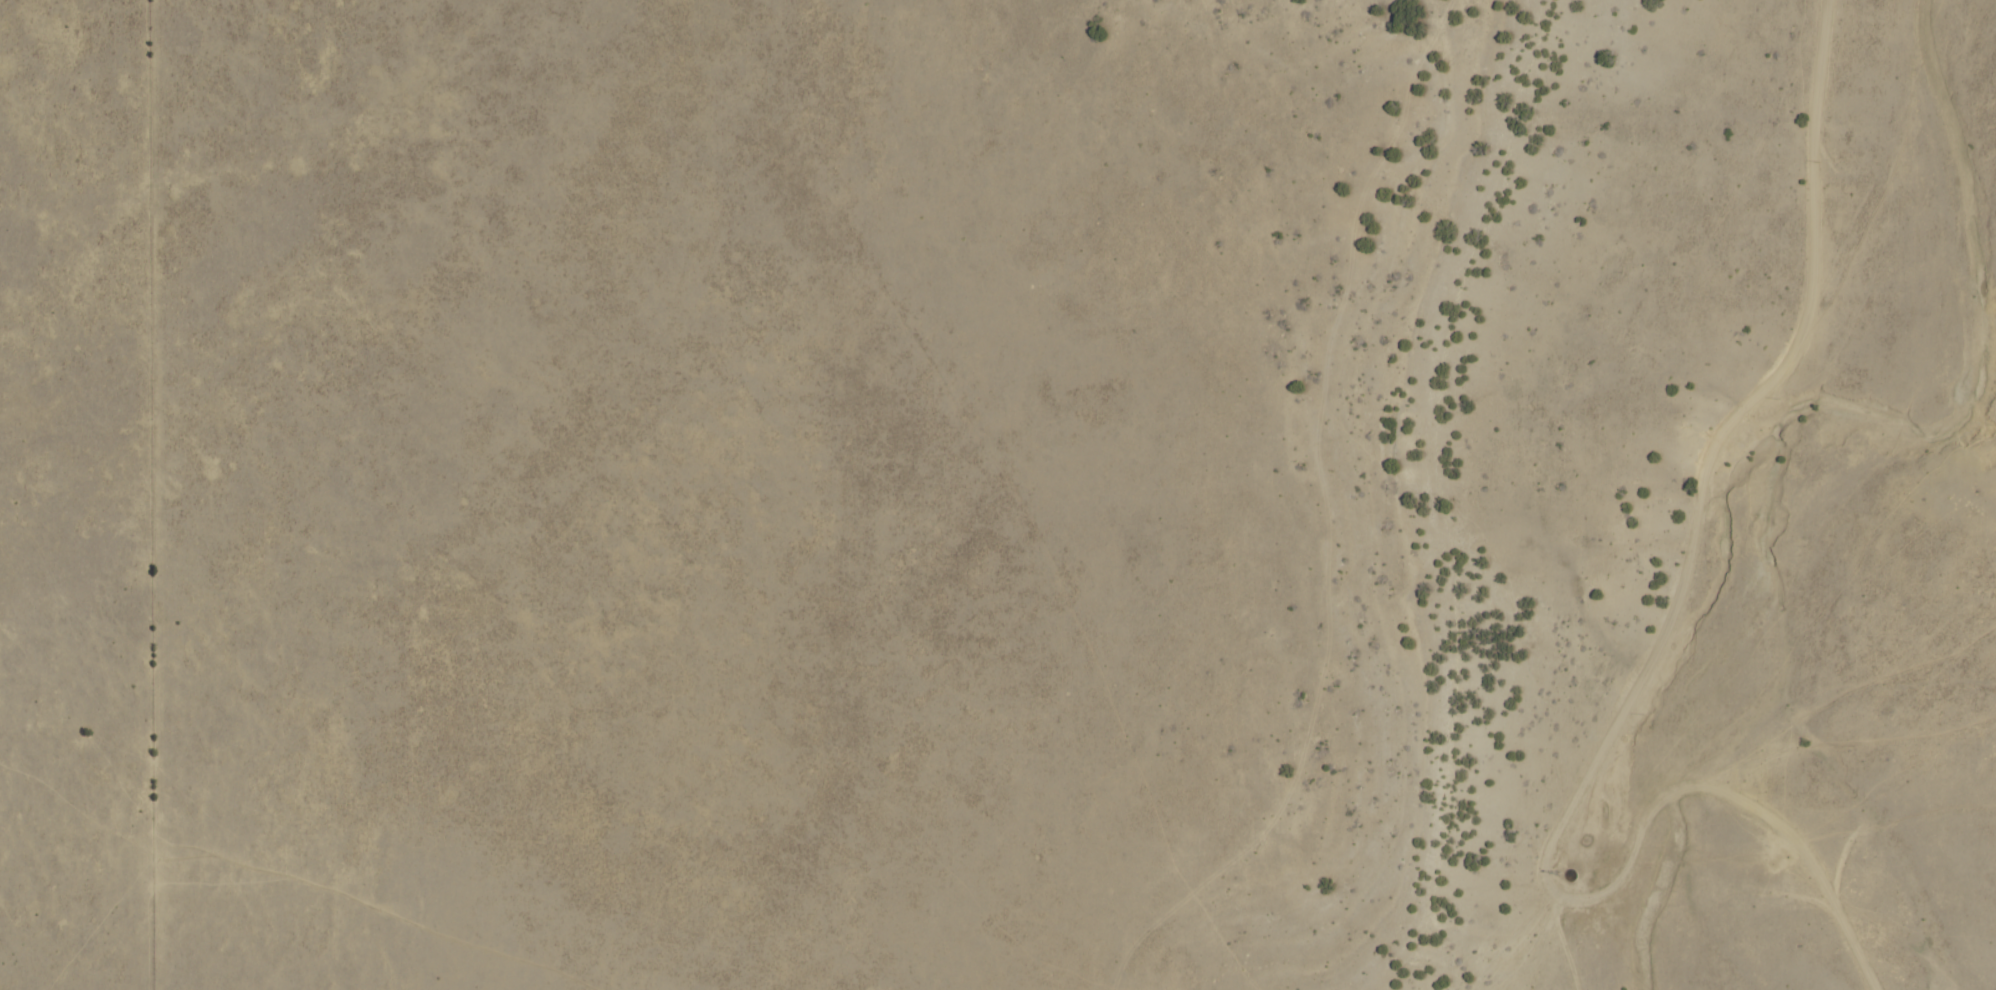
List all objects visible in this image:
road: (1681, 496)
road: (1723, 882)

